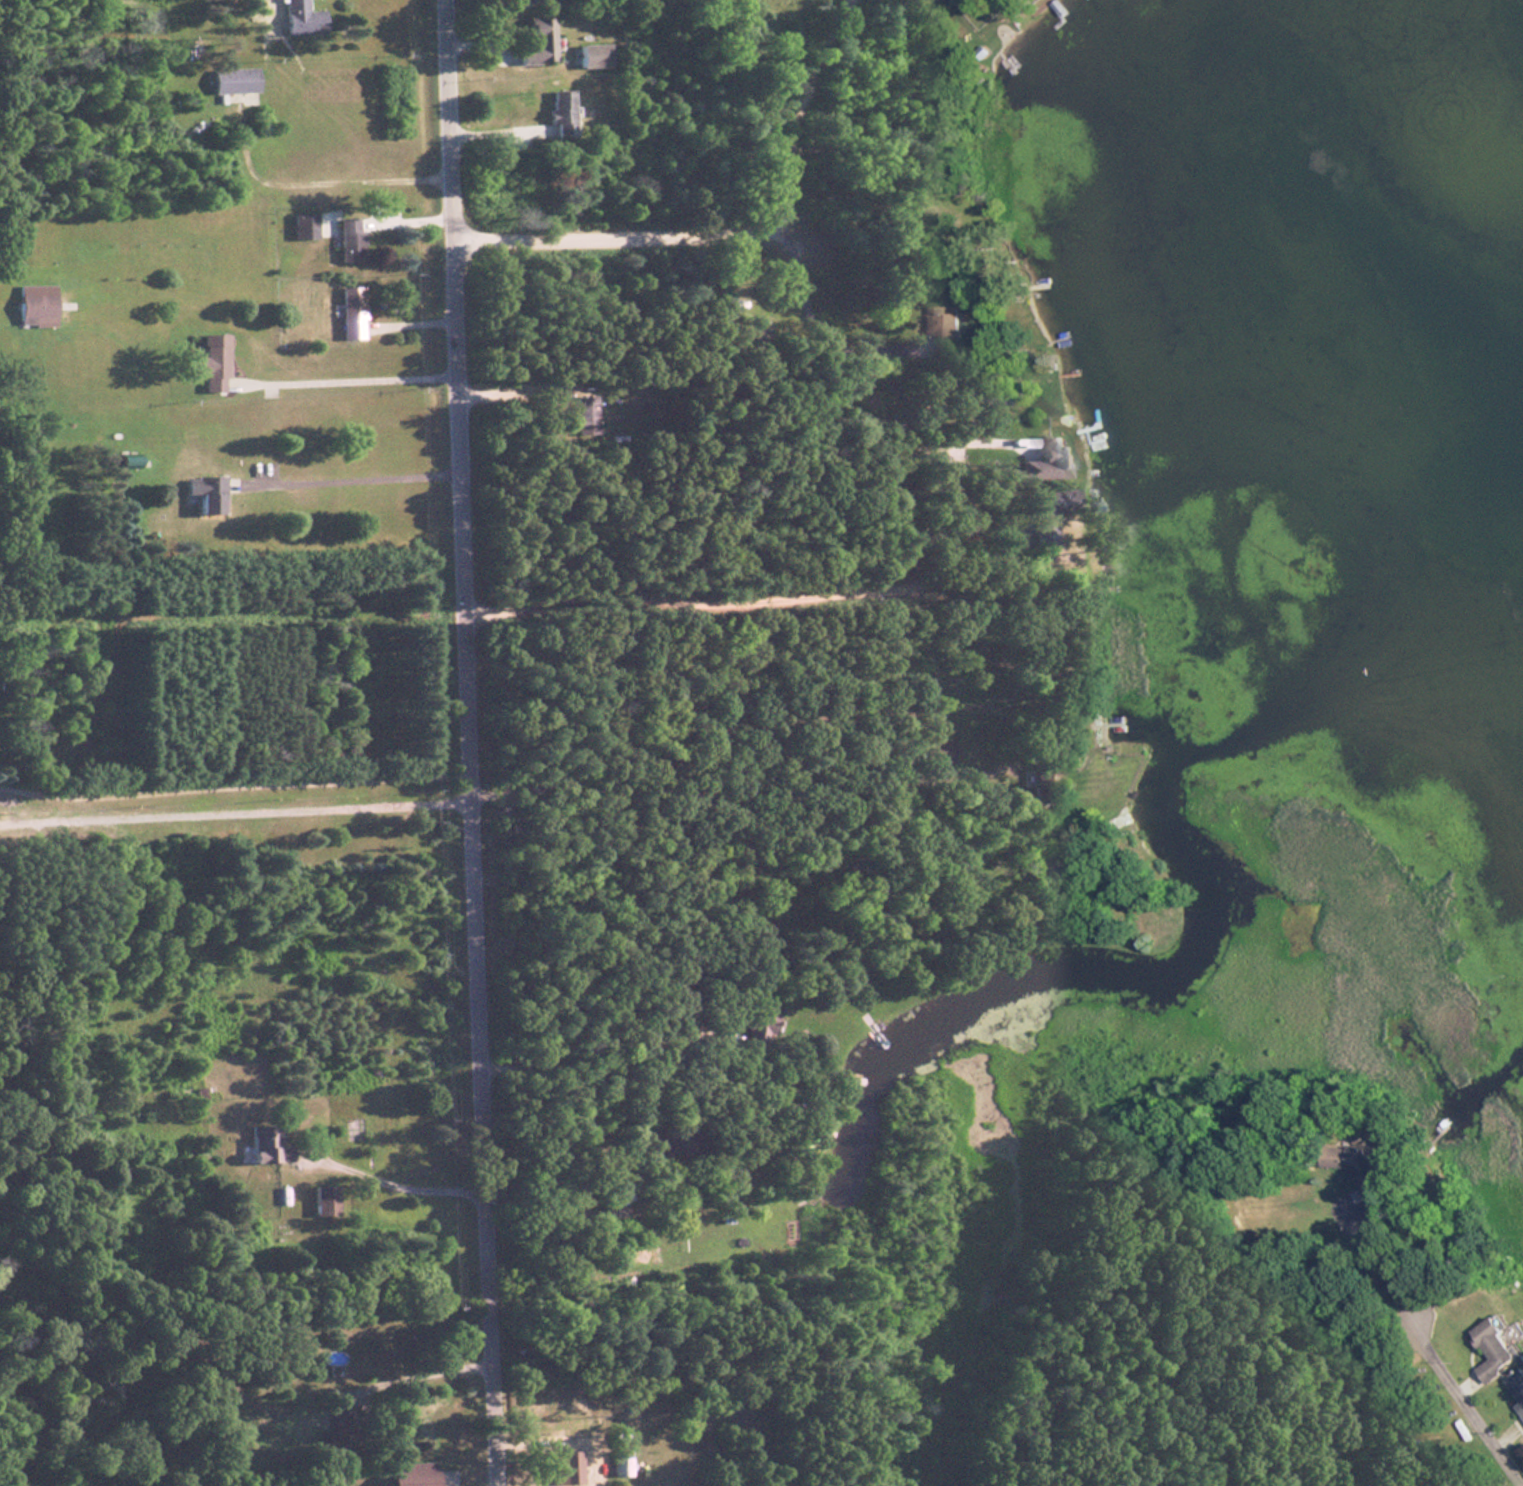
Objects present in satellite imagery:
building: (299, 18)
building: (534, 42)
building: (591, 56)
building: (233, 81)
building: (558, 111)
road: (321, 180)
building: (300, 226)
road: (732, 228)
building: (346, 240)
building: (32, 310)
building: (349, 312)
building: (946, 324)
road: (804, 333)
building: (209, 361)
road: (345, 377)
road: (513, 393)
building: (584, 415)
building: (1042, 460)
road: (354, 480)
building: (203, 493)
road: (694, 599)
road: (471, 743)
building: (1041, 780)
road: (236, 785)
building: (1031, 875)
building: (264, 1145)
building: (1342, 1157)
road: (396, 1175)
building: (322, 1200)
road: (1426, 1340)
building: (1491, 1350)
road: (398, 1378)
building: (1517, 1387)
building: (333, 1433)
building: (617, 1463)
building: (548, 1470)
building: (408, 1475)

